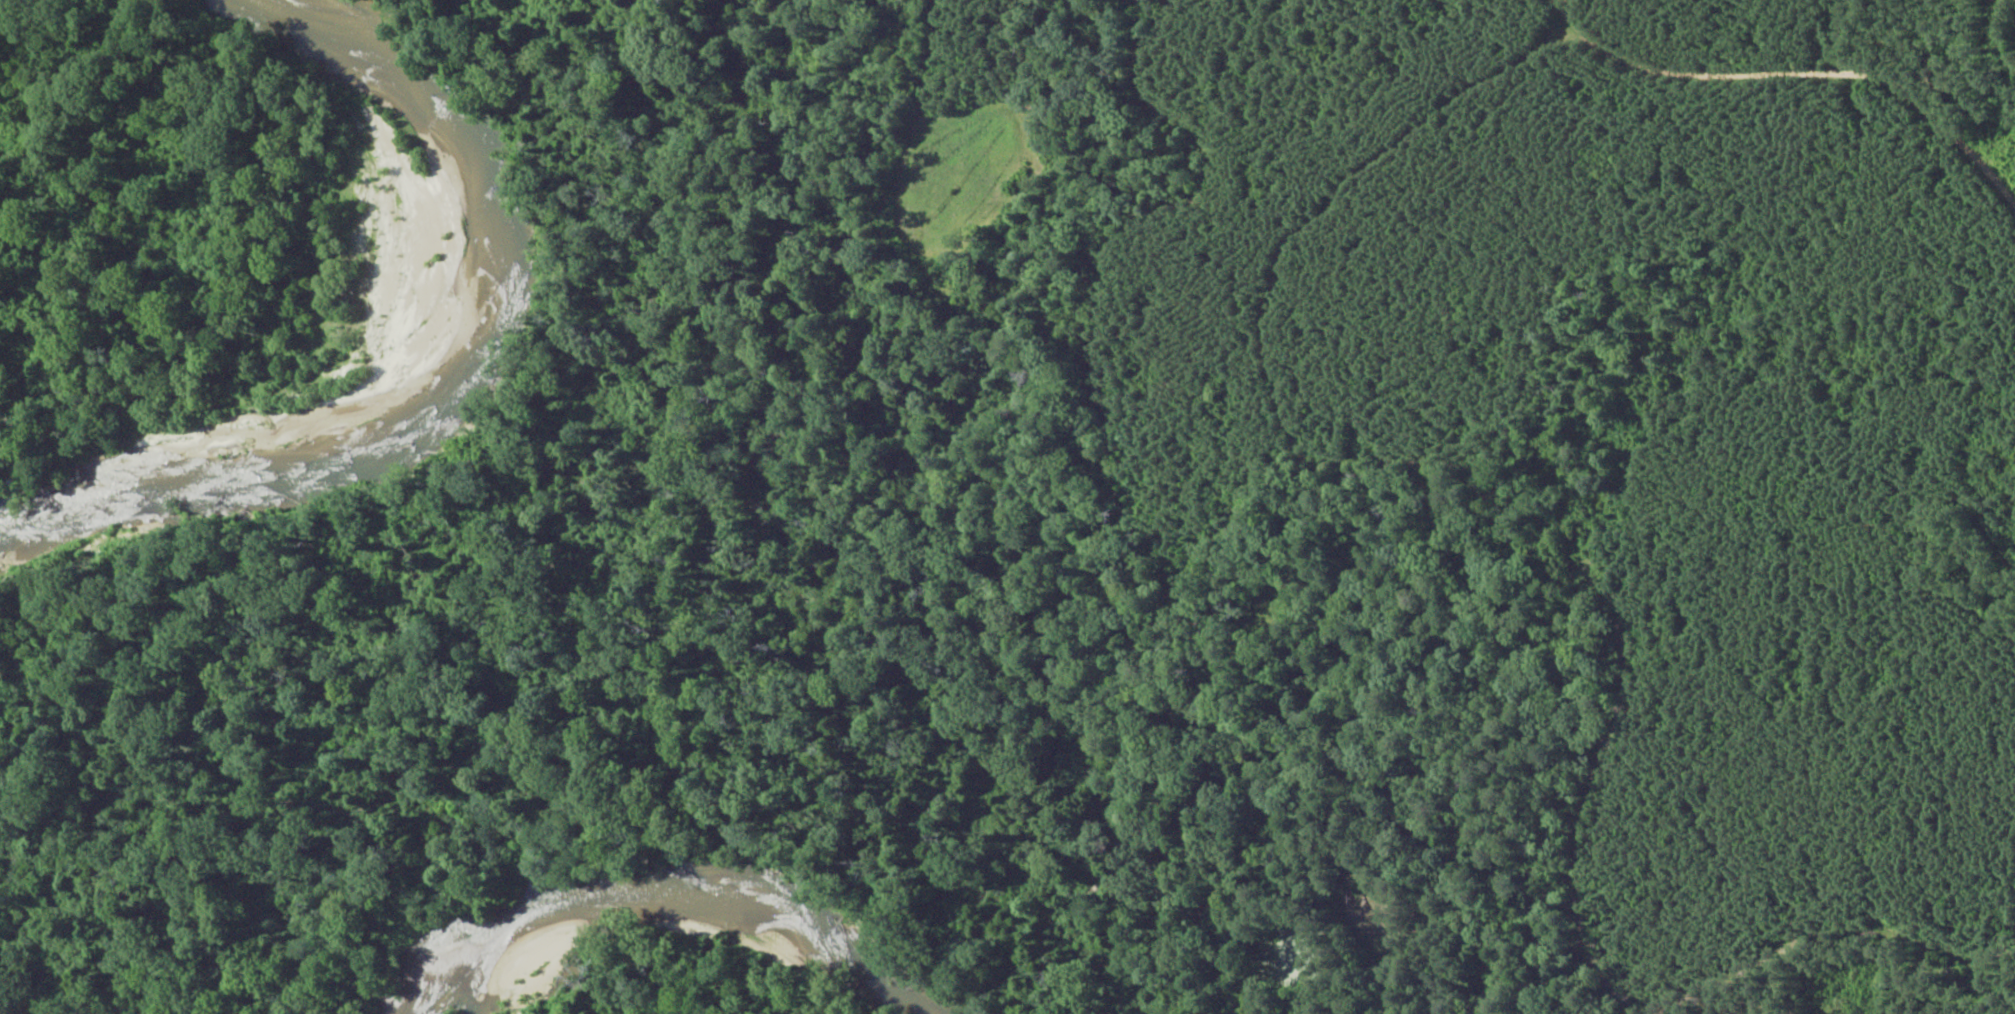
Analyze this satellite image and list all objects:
road: (1756, 119)

